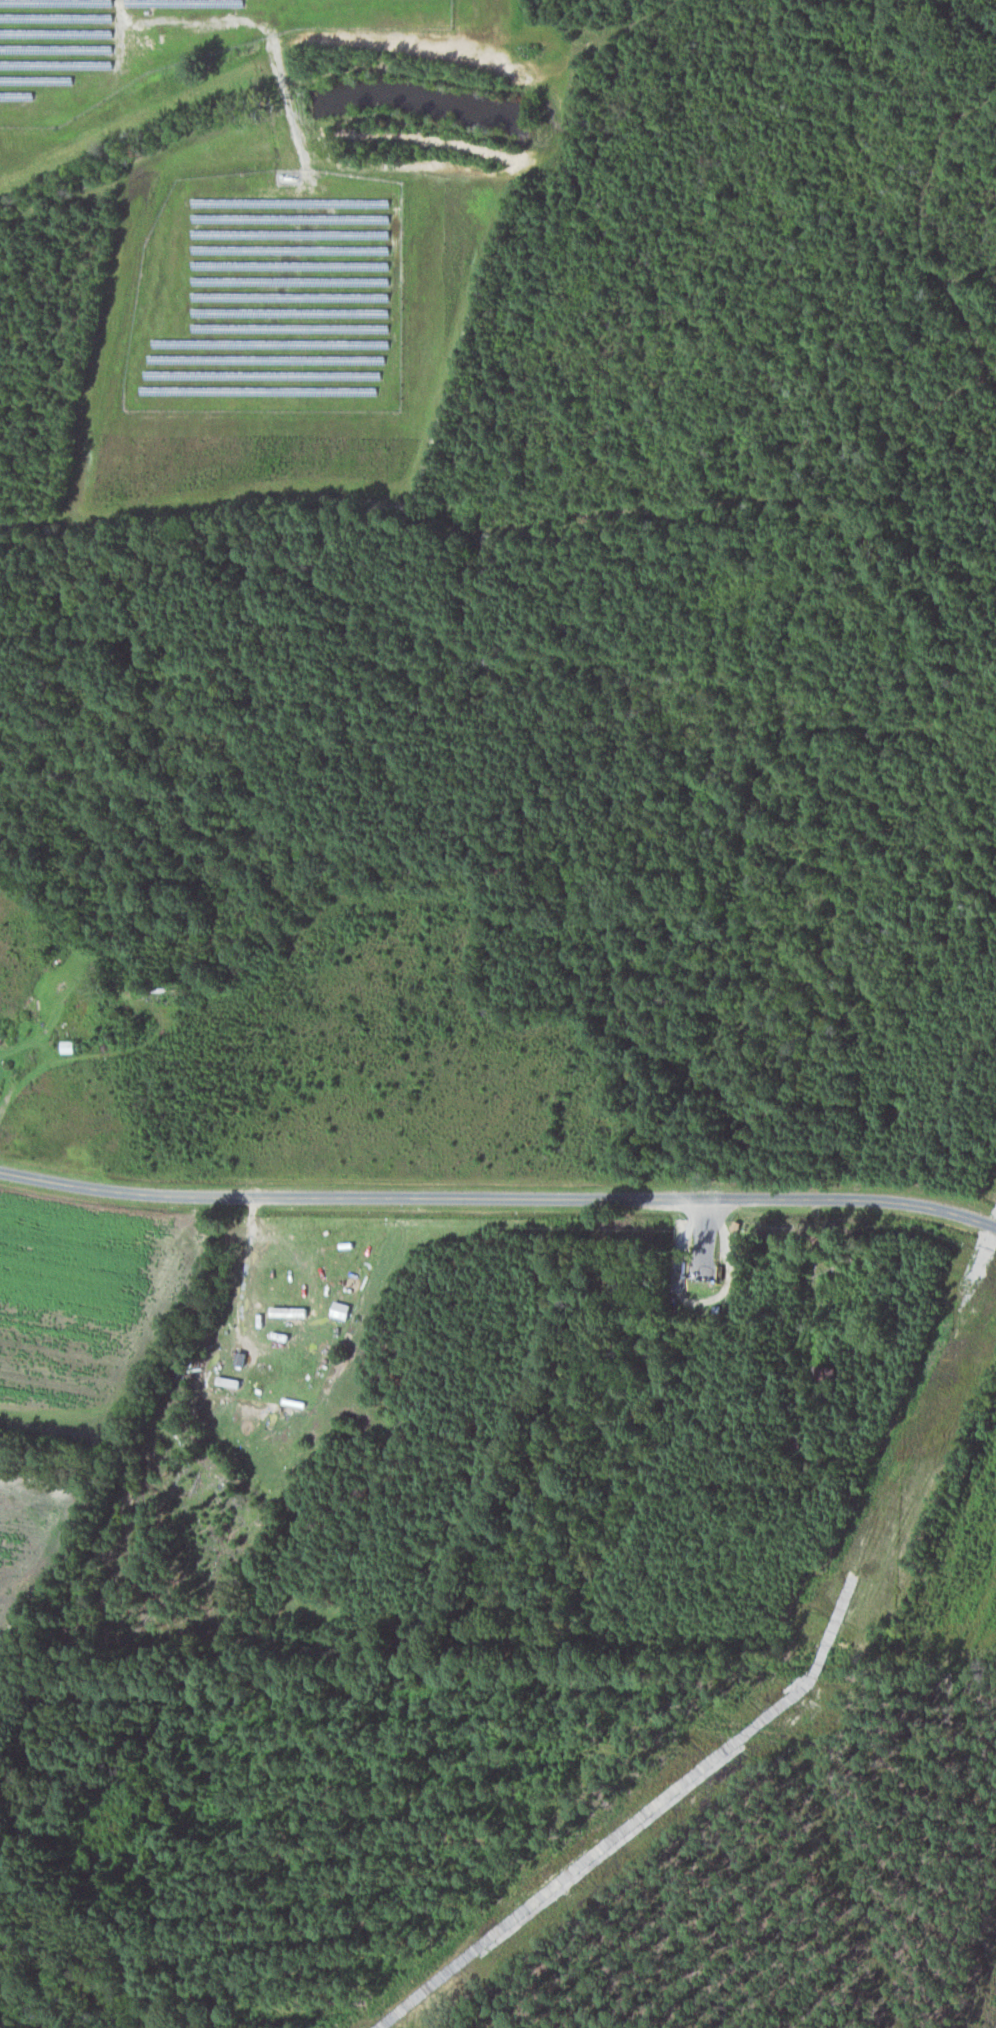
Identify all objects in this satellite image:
road: (497, 1204)
building: (285, 1311)

